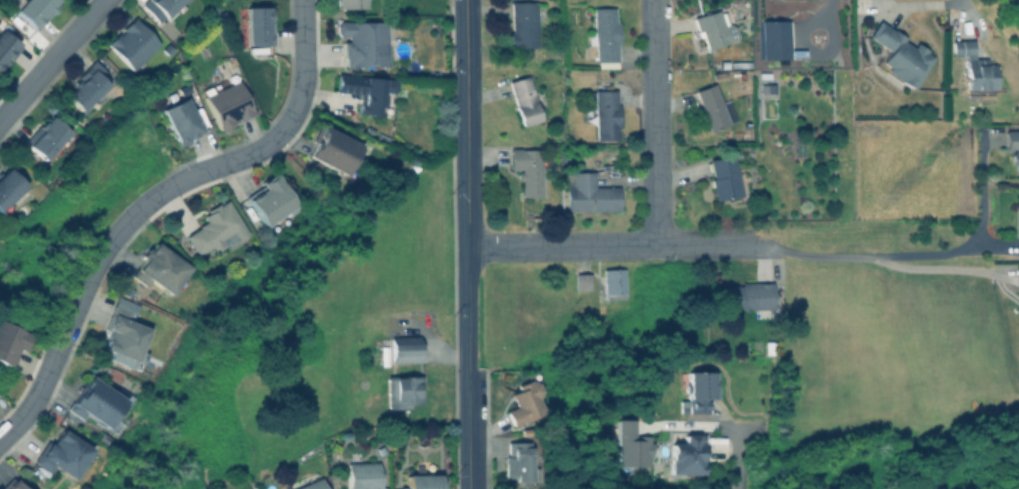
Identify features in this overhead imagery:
road: (948, 2)
building: (346, 3)
building: (162, 8)
building: (30, 10)
building: (521, 23)
building: (257, 24)
building: (711, 28)
building: (602, 35)
building: (771, 39)
building: (361, 40)
building: (129, 42)
building: (7, 48)
building: (897, 54)
road: (52, 60)
building: (974, 68)
building: (717, 73)
building: (84, 86)
building: (765, 87)
building: (363, 89)
building: (522, 99)
building: (225, 101)
building: (711, 105)
building: (603, 112)
building: (177, 118)
road: (655, 123)
road: (287, 125)
building: (379, 136)
building: (45, 138)
building: (1013, 145)
building: (333, 150)
building: (526, 168)
building: (724, 177)
road: (467, 185)
building: (10, 192)
building: (585, 192)
building: (268, 201)
building: (214, 228)
road: (617, 246)
road: (924, 255)
road: (99, 259)
building: (155, 267)
road: (943, 268)
building: (611, 279)
building: (580, 280)
building: (123, 290)
building: (746, 296)
building: (123, 337)
building: (8, 342)
building: (769, 345)
building: (402, 347)
building: (400, 390)
building: (697, 390)
building: (524, 399)
building: (96, 400)
road: (33, 401)
road: (726, 425)
road: (469, 430)
building: (102, 437)
building: (630, 447)
building: (685, 453)
building: (63, 454)
building: (515, 461)
building: (360, 475)
building: (418, 481)
building: (9, 484)
building: (309, 484)

